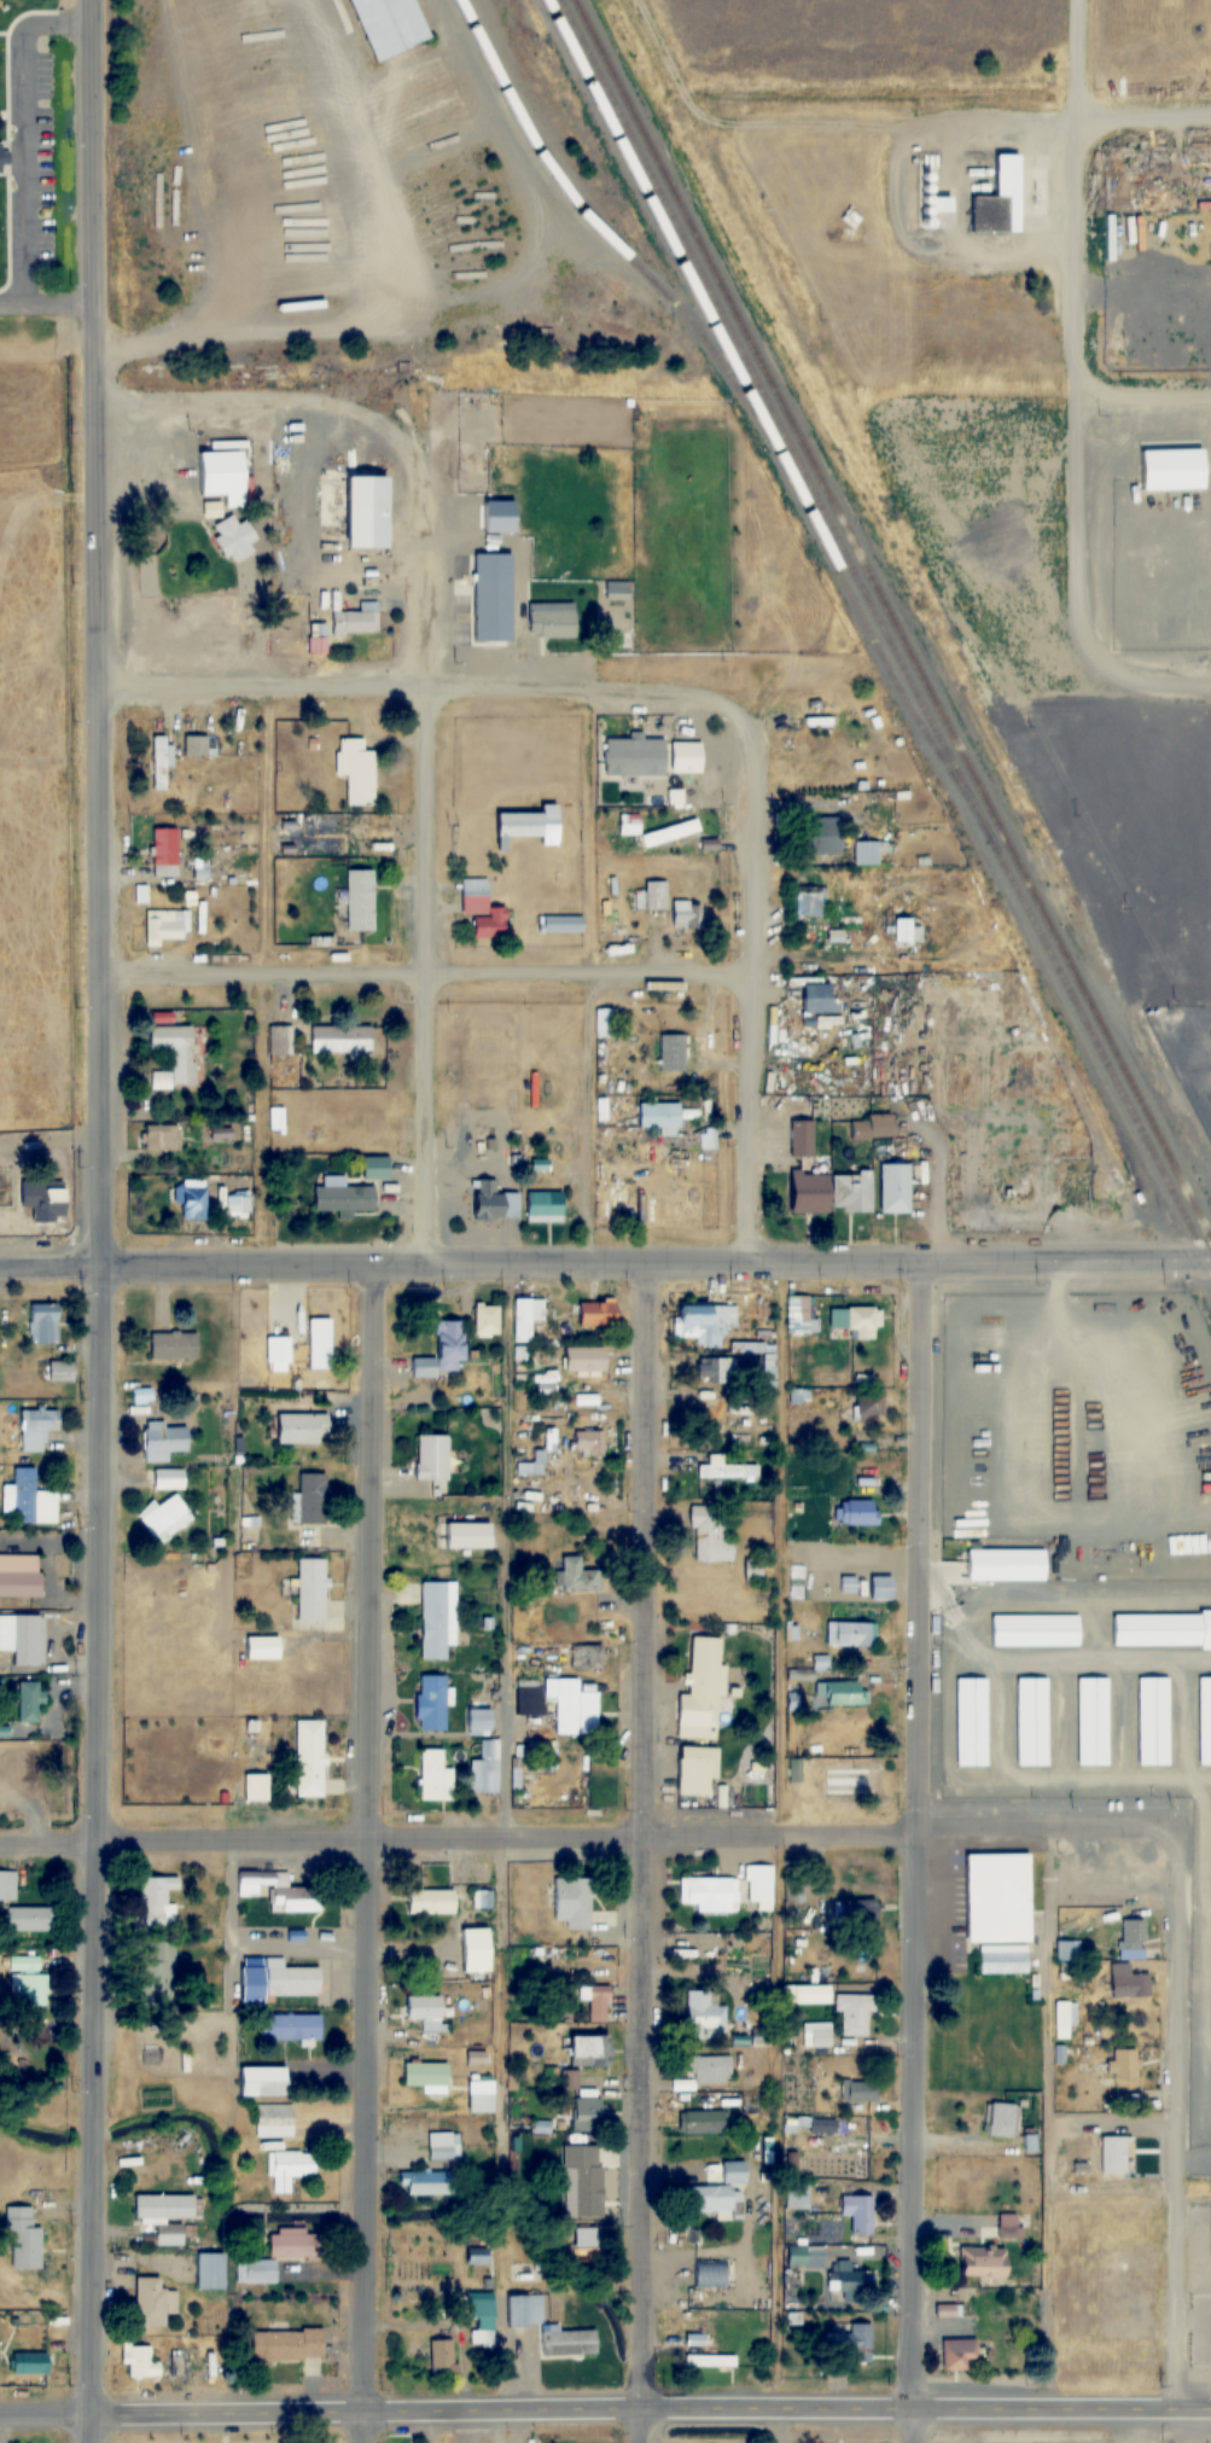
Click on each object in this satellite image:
building: (391, 25)
road: (1146, 114)
road: (22, 133)
building: (0, 158)
parking lot: (30, 165)
building: (995, 202)
railway: (588, 220)
road: (46, 306)
railway: (734, 310)
road: (1084, 360)
road: (1148, 395)
railway: (751, 405)
building: (1166, 470)
building: (225, 475)
building: (368, 511)
building: (234, 537)
building: (617, 591)
building: (494, 597)
building: (356, 620)
building: (553, 620)
road: (95, 632)
railway: (884, 634)
crop: (46, 644)
building: (316, 644)
road: (1186, 685)
road: (425, 692)
building: (196, 745)
building: (636, 756)
building: (687, 757)
building: (158, 762)
building: (356, 770)
building: (530, 826)
building: (653, 832)
building: (825, 836)
building: (165, 853)
building: (867, 853)
building: (651, 895)
building: (361, 900)
building: (808, 901)
road: (424, 903)
building: (482, 908)
building: (687, 914)
building: (560, 924)
building: (168, 926)
building: (907, 931)
railway: (1052, 931)
road: (423, 976)
road: (746, 991)
building: (604, 1022)
building: (342, 1040)
building: (280, 1043)
building: (176, 1048)
building: (671, 1052)
building: (659, 1115)
building: (365, 1118)
building: (609, 1125)
building: (873, 1127)
building: (219, 1132)
building: (163, 1136)
building: (802, 1138)
building: (375, 1168)
building: (986, 1169)
building: (895, 1187)
building: (852, 1191)
building: (810, 1192)
building: (344, 1198)
building: (46, 1200)
building: (194, 1202)
building: (495, 1202)
building: (545, 1205)
road: (605, 1261)
building: (596, 1313)
building: (797, 1314)
building: (525, 1318)
building: (487, 1321)
building: (861, 1321)
building: (703, 1322)
building: (45, 1324)
building: (319, 1344)
building: (174, 1345)
building: (443, 1353)
building: (278, 1354)
building: (584, 1360)
building: (716, 1371)
building: (62, 1372)
building: (869, 1407)
building: (37, 1429)
building: (303, 1429)
building: (164, 1441)
building: (433, 1458)
building: (726, 1471)
building: (167, 1479)
building: (313, 1499)
building: (29, 1500)
building: (856, 1512)
building: (165, 1518)
building: (709, 1534)
building: (465, 1536)
building: (1006, 1565)
building: (21, 1575)
building: (578, 1575)
building: (846, 1584)
building: (879, 1588)
building: (312, 1589)
building: (437, 1619)
building: (1160, 1629)
building: (1034, 1630)
building: (850, 1634)
building: (23, 1638)
building: (262, 1647)
building: (704, 1667)
building: (839, 1693)
building: (30, 1702)
building: (559, 1702)
building: (432, 1703)
building: (1204, 1720)
building: (481, 1721)
building: (1031, 1721)
building: (1093, 1721)
building: (1153, 1721)
building: (971, 1722)
building: (309, 1758)
building: (21, 1764)
building: (484, 1769)
building: (692, 1772)
building: (514, 1774)
building: (433, 1776)
building: (256, 1787)
road: (593, 1834)
road: (640, 1851)
road: (910, 1851)
road: (94, 1852)
road: (367, 1852)
building: (758, 1883)
building: (791, 1884)
building: (5, 1886)
building: (279, 1891)
building: (706, 1894)
building: (478, 1898)
building: (159, 1900)
building: (430, 1901)
building: (994, 1902)
building: (574, 1903)
building: (852, 1913)
building: (28, 1919)
building: (1131, 1938)
building: (476, 1950)
building: (1002, 1959)
building: (28, 1979)
building: (279, 1982)
building: (1129, 1983)
building: (813, 1995)
building: (598, 2005)
building: (425, 2012)
building: (852, 2014)
building: (703, 2016)
building: (1062, 2018)
building: (291, 2028)
building: (816, 2038)
building: (587, 2051)
building: (1124, 2064)
building: (714, 2069)
building: (425, 2073)
building: (264, 2082)
building: (858, 2092)
building: (481, 2096)
building: (587, 2115)
building: (1002, 2121)
building: (274, 2122)
building: (703, 2122)
building: (822, 2125)
road: (1174, 2134)
building: (443, 2145)
building: (767, 2154)
building: (1113, 2154)
building: (836, 2158)
building: (289, 2169)
building: (589, 2170)
building: (427, 2183)
building: (717, 2187)
building: (537, 2193)
building: (164, 2208)
building: (857, 2212)
building: (169, 2234)
building: (675, 2234)
building: (24, 2239)
building: (587, 2249)
building: (284, 2253)
building: (479, 2256)
building: (804, 2256)
building: (984, 2262)
building: (210, 2270)
building: (711, 2274)
building: (850, 2286)
building: (153, 2302)
building: (525, 2310)
building: (483, 2314)
building: (792, 2315)
building: (695, 2339)
building: (570, 2343)
building: (854, 2343)
building: (287, 2344)
building: (960, 2354)
building: (443, 2357)
building: (710, 2361)
building: (29, 2362)
building: (141, 2362)
road: (605, 2410)

